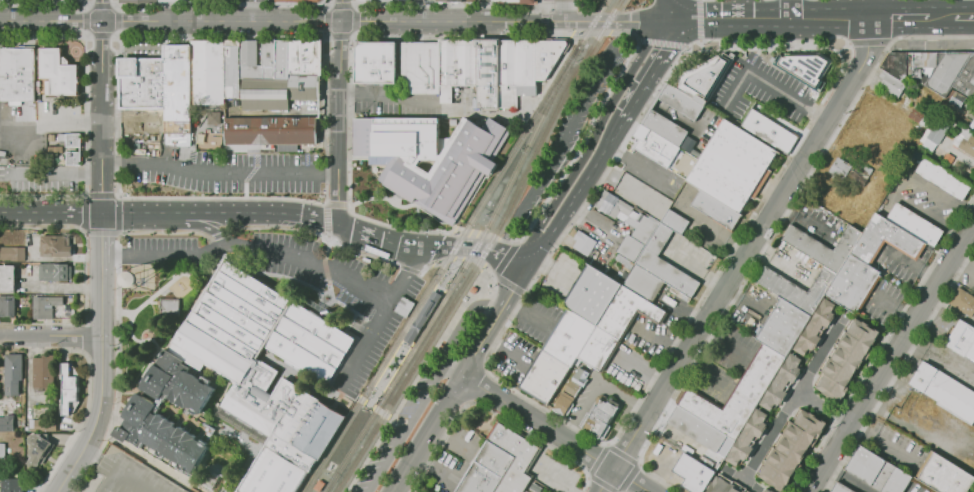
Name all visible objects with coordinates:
building: (175, 0)
building: (200, 0)
building: (229, 0)
parking lot: (261, 0)
building: (360, 0)
building: (451, 0)
building: (141, 1)
building: (299, 1)
building: (381, 1)
building: (425, 1)
building: (511, 1)
road: (44, 2)
road: (89, 3)
road: (327, 3)
road: (537, 4)
road: (328, 5)
road: (454, 5)
road: (791, 7)
road: (875, 7)
road: (102, 10)
road: (254, 10)
road: (339, 11)
road: (668, 11)
road: (559, 12)
road: (938, 14)
road: (963, 14)
road: (772, 15)
road: (900, 15)
traffic signals: (744, 16)
road: (543, 20)
road: (50, 21)
road: (699, 22)
road: (362, 23)
railway: (593, 23)
road: (647, 23)
traffic signals: (569, 25)
road: (590, 30)
road: (112, 34)
road: (659, 43)
road: (868, 43)
building: (297, 57)
building: (314, 57)
building: (269, 58)
building: (284, 59)
building: (251, 60)
building: (370, 62)
building: (453, 63)
road: (624, 63)
building: (920, 63)
road: (347, 65)
building: (897, 65)
building: (802, 66)
building: (521, 67)
building: (416, 68)
building: (234, 69)
building: (60, 72)
building: (209, 72)
road: (651, 72)
building: (944, 72)
building: (483, 73)
building: (18, 75)
building: (965, 78)
building: (139, 83)
road: (766, 83)
building: (692, 86)
building: (306, 87)
building: (889, 87)
parking lot: (760, 89)
building: (176, 90)
building: (267, 94)
road: (386, 97)
parking lot: (387, 102)
road: (671, 115)
road: (811, 119)
road: (50, 121)
building: (209, 122)
road: (338, 123)
building: (664, 127)
building: (973, 127)
parking lot: (570, 128)
building: (938, 129)
building: (768, 131)
building: (274, 132)
road: (560, 138)
road: (591, 140)
building: (70, 141)
building: (963, 143)
building: (663, 150)
road: (84, 156)
building: (73, 158)
building: (426, 160)
road: (634, 163)
railway: (516, 166)
building: (733, 166)
building: (838, 168)
parking lot: (222, 172)
road: (54, 173)
road: (219, 174)
building: (940, 178)
parking lot: (40, 180)
road: (553, 188)
road: (575, 194)
road: (116, 198)
road: (223, 198)
building: (608, 205)
road: (325, 208)
building: (712, 210)
road: (24, 212)
road: (187, 212)
road: (74, 213)
road: (305, 218)
building: (671, 222)
road: (194, 223)
building: (913, 225)
road: (164, 231)
road: (218, 234)
road: (316, 234)
road: (458, 234)
road: (471, 235)
road: (771, 235)
road: (485, 237)
building: (634, 239)
building: (883, 240)
road: (410, 244)
road: (514, 244)
building: (581, 244)
building: (56, 245)
building: (820, 247)
railway: (485, 250)
road: (492, 251)
road: (249, 252)
building: (12, 253)
road: (743, 256)
road: (458, 258)
road: (444, 259)
road: (473, 259)
road: (511, 259)
road: (104, 263)
parking lot: (278, 263)
building: (661, 264)
road: (323, 265)
road: (696, 267)
road: (962, 267)
road: (424, 268)
road: (407, 269)
railway: (441, 269)
building: (53, 272)
road: (450, 272)
road: (494, 274)
road: (493, 276)
road: (84, 277)
building: (8, 278)
water tower: (142, 278)
building: (639, 284)
road: (512, 285)
building: (849, 285)
road: (61, 287)
building: (473, 289)
building: (794, 289)
road: (155, 293)
building: (587, 296)
building: (961, 303)
building: (7, 306)
building: (45, 306)
building: (169, 308)
building: (622, 313)
building: (973, 315)
road: (379, 316)
building: (422, 316)
building: (780, 328)
road: (53, 339)
building: (564, 339)
road: (658, 339)
road: (882, 341)
building: (961, 342)
railway: (416, 344)
building: (595, 352)
road: (890, 356)
building: (842, 360)
road: (144, 364)
road: (114, 367)
road: (898, 369)
road: (421, 370)
road: (449, 371)
road: (640, 371)
building: (43, 372)
building: (13, 373)
building: (270, 374)
building: (539, 378)
building: (780, 383)
road: (477, 384)
building: (165, 388)
road: (427, 388)
building: (68, 390)
road: (348, 391)
railway: (383, 391)
building: (568, 392)
building: (942, 394)
road: (373, 396)
building: (733, 396)
road: (360, 398)
road: (444, 398)
road: (791, 398)
road: (368, 403)
road: (821, 408)
road: (380, 411)
road: (491, 411)
road: (390, 417)
building: (597, 418)
building: (7, 423)
building: (40, 425)
parking lot: (397, 431)
building: (697, 432)
building: (128, 433)
road: (553, 434)
building: (177, 442)
road: (606, 443)
railway: (352, 448)
building: (38, 449)
building: (788, 450)
building: (2, 454)
road: (89, 455)
building: (502, 463)
building: (874, 470)
building: (689, 474)
building: (940, 474)
building: (125, 476)
parking lot: (125, 476)
road: (845, 476)
building: (208, 482)
building: (11, 485)
building: (318, 485)
building: (722, 485)
building: (836, 488)
road: (393, 490)
building: (762, 490)
park: (972, 490)

